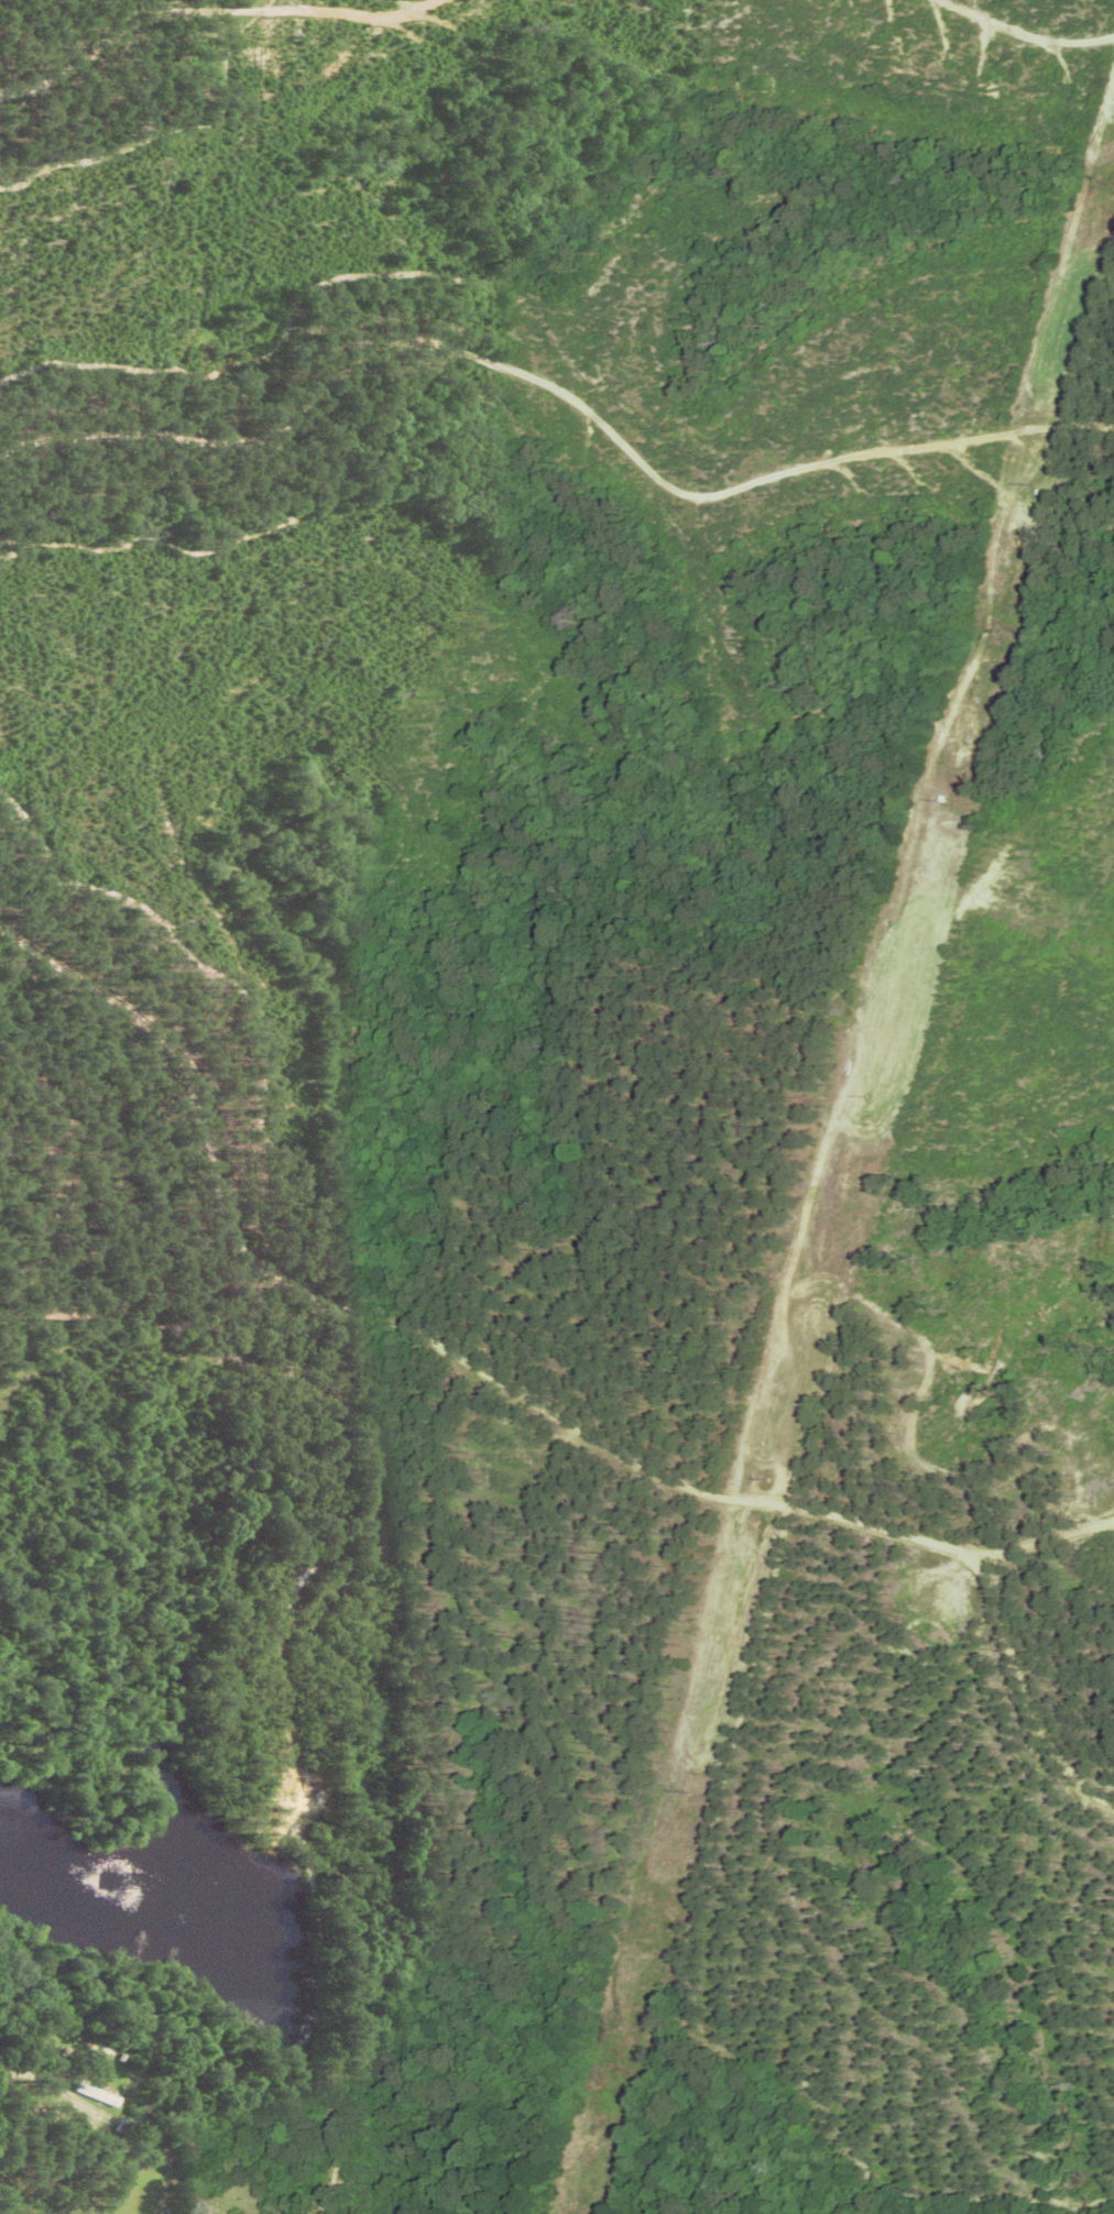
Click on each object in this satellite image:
road: (1009, 36)
road: (122, 44)
road: (540, 419)
road: (741, 1464)
road: (302, 1502)
road: (1046, 1522)
building: (197, 2213)

